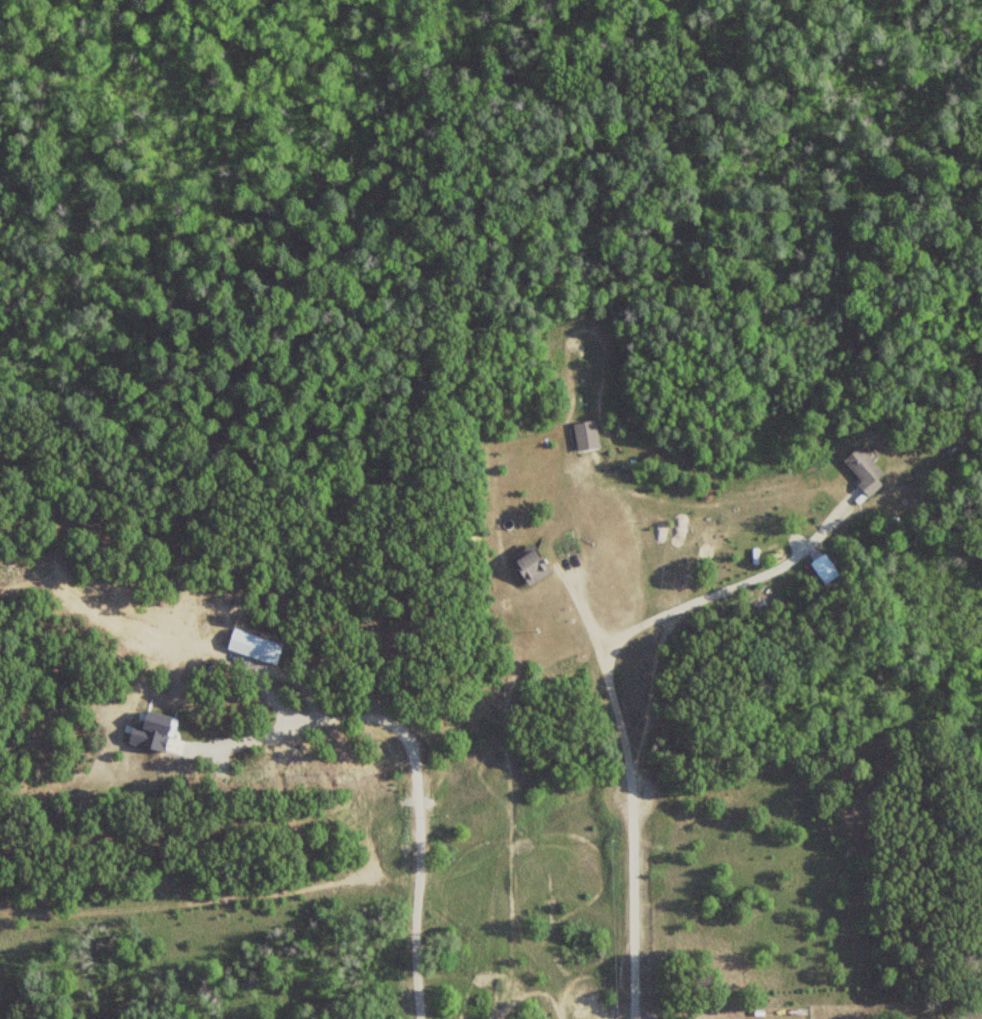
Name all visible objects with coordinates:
building: (584, 436)
building: (862, 469)
building: (528, 562)
road: (583, 613)
road: (611, 691)
road: (696, 1010)

